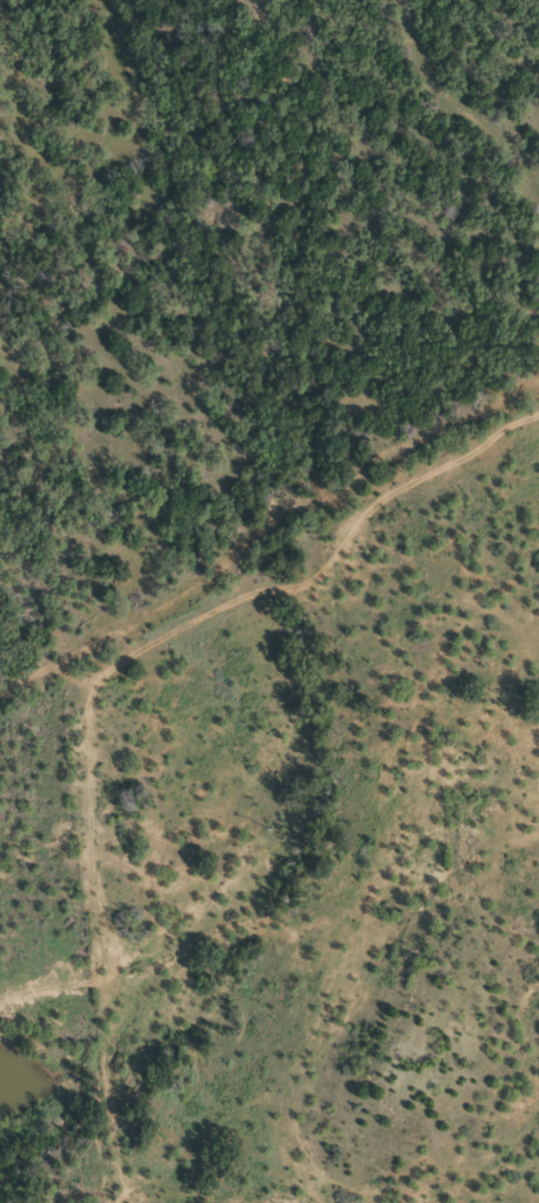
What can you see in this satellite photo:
road: (153, 1051)

